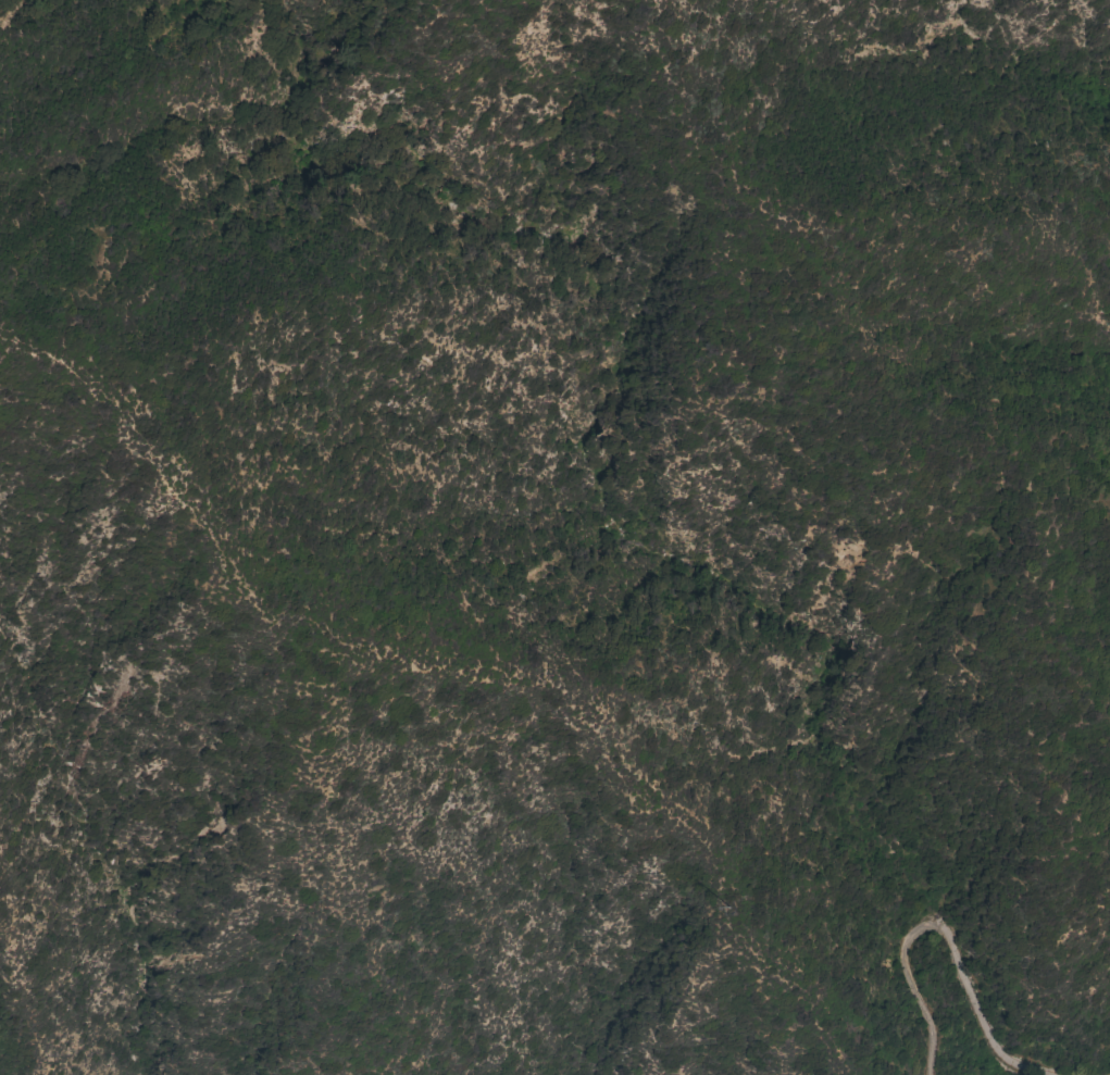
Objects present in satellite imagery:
road: (940, 932)

